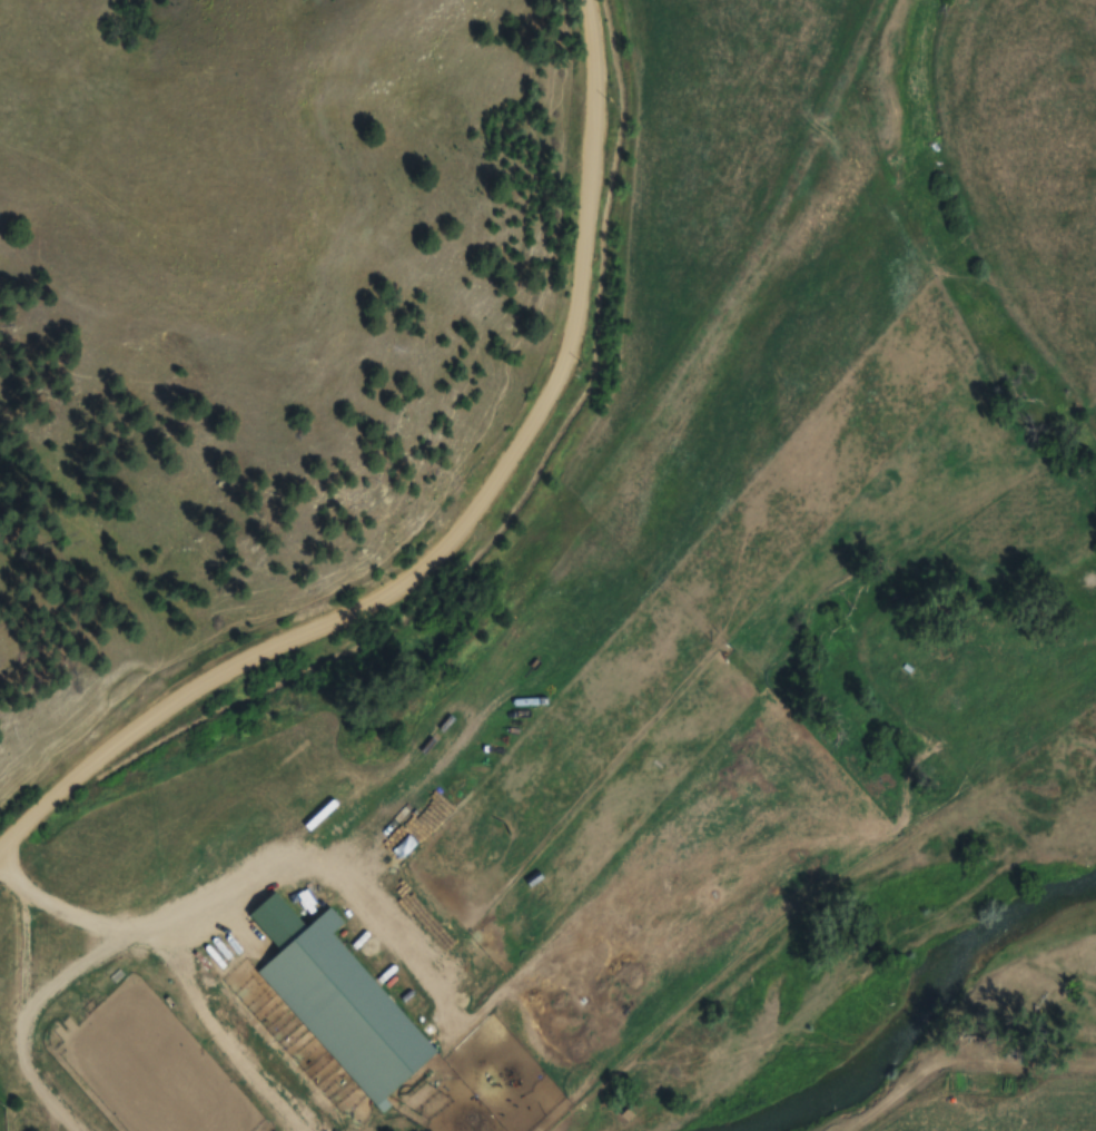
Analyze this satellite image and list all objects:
road: (448, 525)
river: (911, 1002)
building: (348, 1010)

